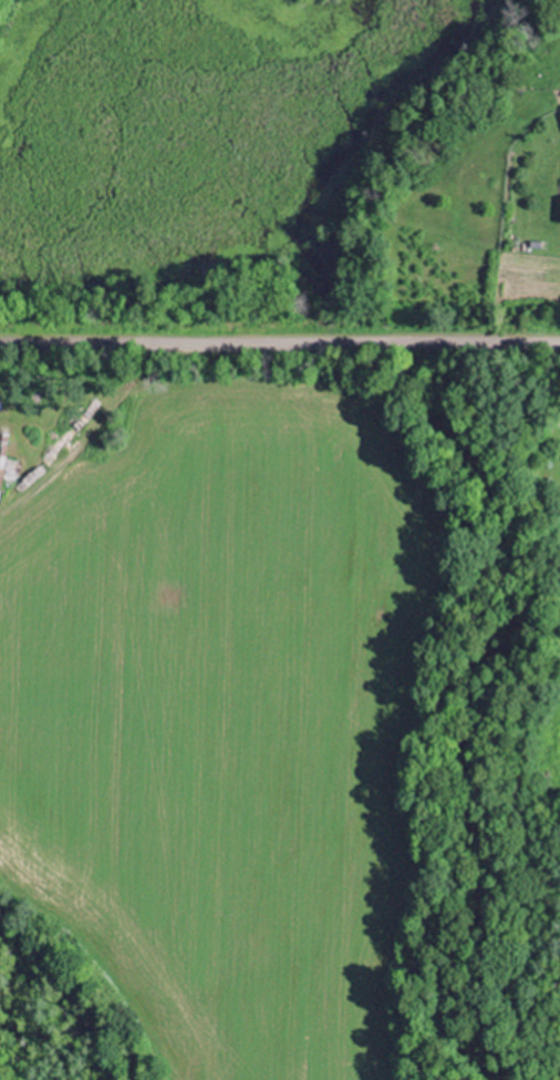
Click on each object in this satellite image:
road: (280, 340)

